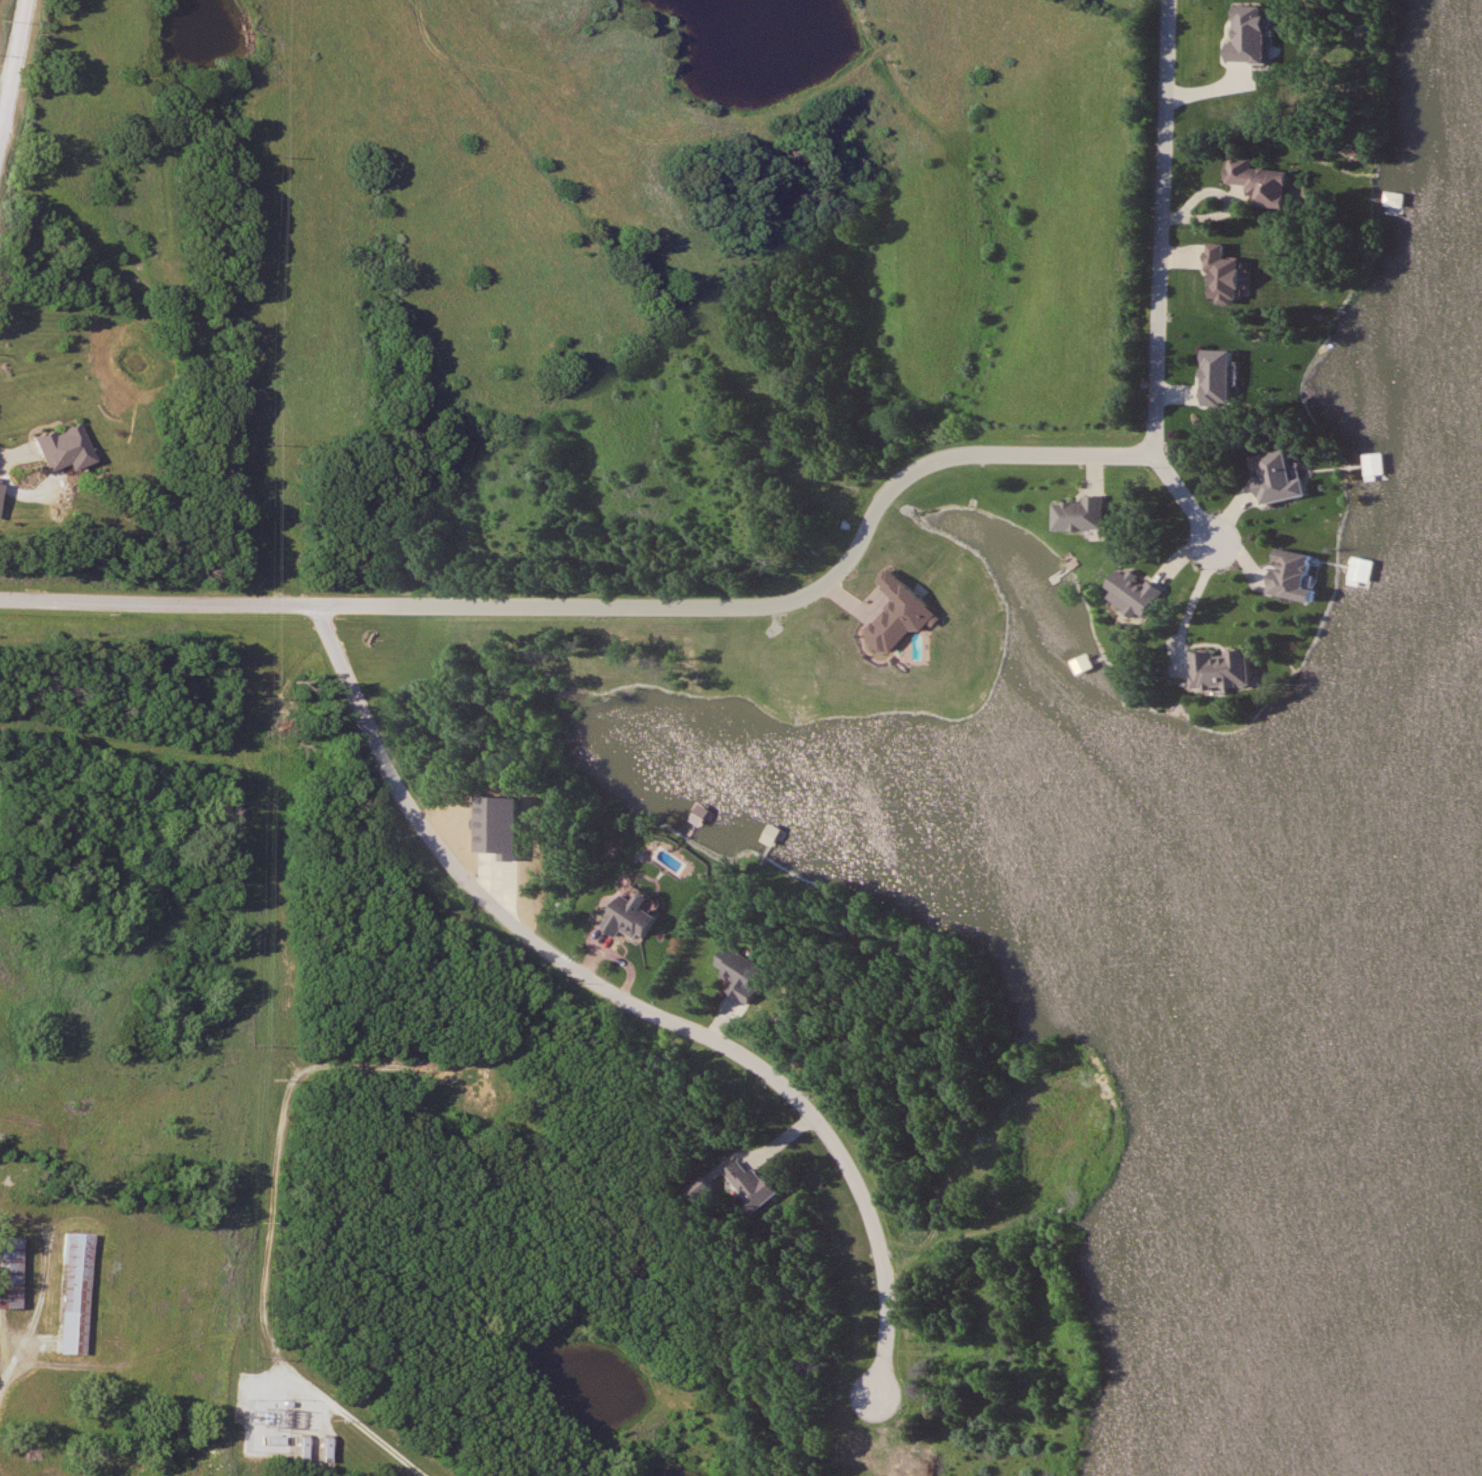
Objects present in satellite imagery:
road: (12, 58)
building: (1256, 182)
building: (1376, 218)
building: (1219, 276)
building: (1212, 378)
building: (53, 449)
building: (1266, 477)
road: (1180, 497)
building: (1076, 514)
building: (1336, 569)
building: (1273, 573)
road: (827, 582)
building: (1128, 592)
building: (1209, 667)
park: (741, 738)
building: (628, 917)
building: (737, 971)
road: (627, 1000)
building: (462, 1075)
building: (14, 1178)
building: (751, 1185)
road: (268, 1234)
building: (6, 1273)
building: (70, 1295)
building: (98, 1458)
building: (153, 1462)

